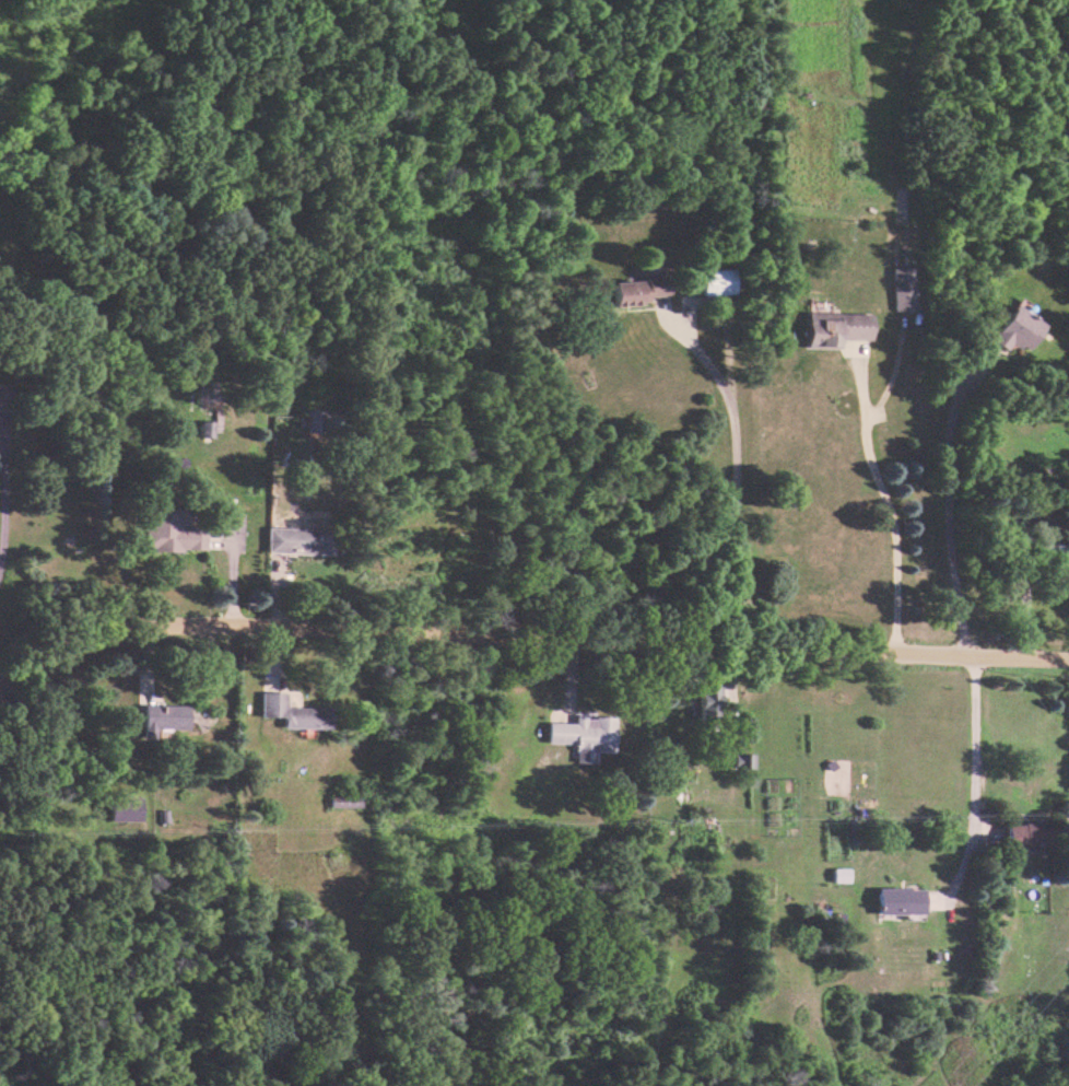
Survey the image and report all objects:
building: (712, 281)
building: (900, 288)
building: (634, 290)
building: (1013, 329)
building: (2, 395)
road: (732, 471)
road: (882, 497)
road: (944, 504)
road: (1, 507)
building: (168, 530)
building: (296, 540)
road: (1012, 585)
road: (540, 635)
road: (10, 675)
building: (707, 701)
building: (291, 712)
building: (171, 716)
building: (582, 735)
road: (970, 773)
building: (342, 799)
building: (121, 809)
building: (1026, 836)
building: (837, 874)
building: (895, 901)

